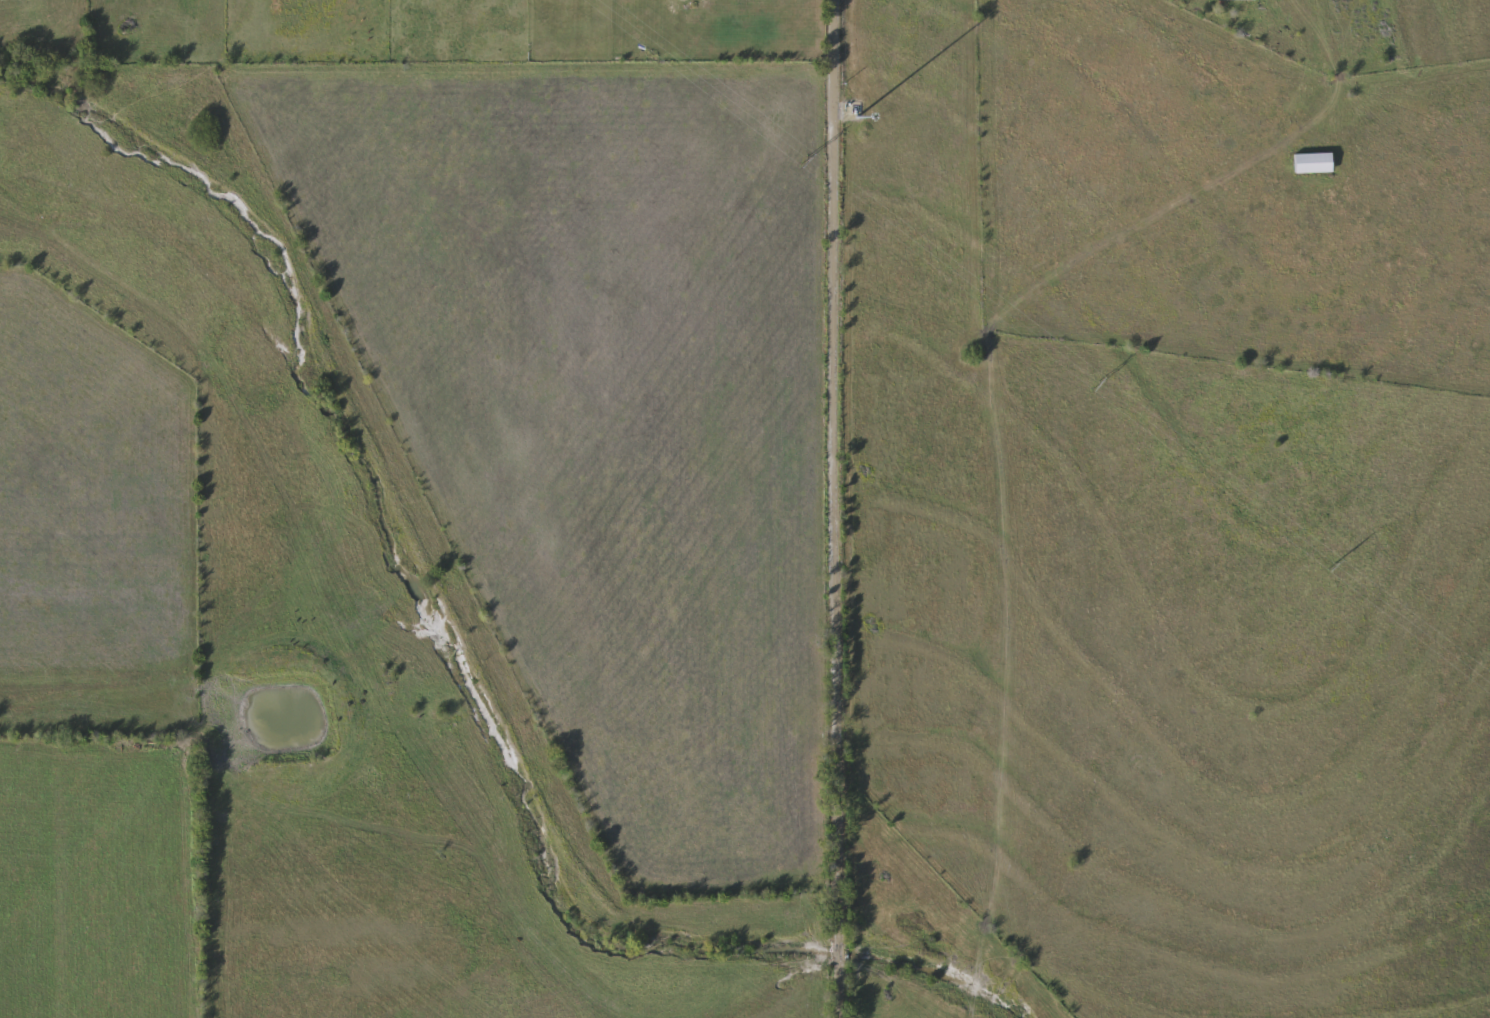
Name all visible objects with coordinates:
power tower: (807, 158)
building: (1312, 163)
power tower: (1098, 382)
road: (831, 509)
power tower: (1334, 564)

